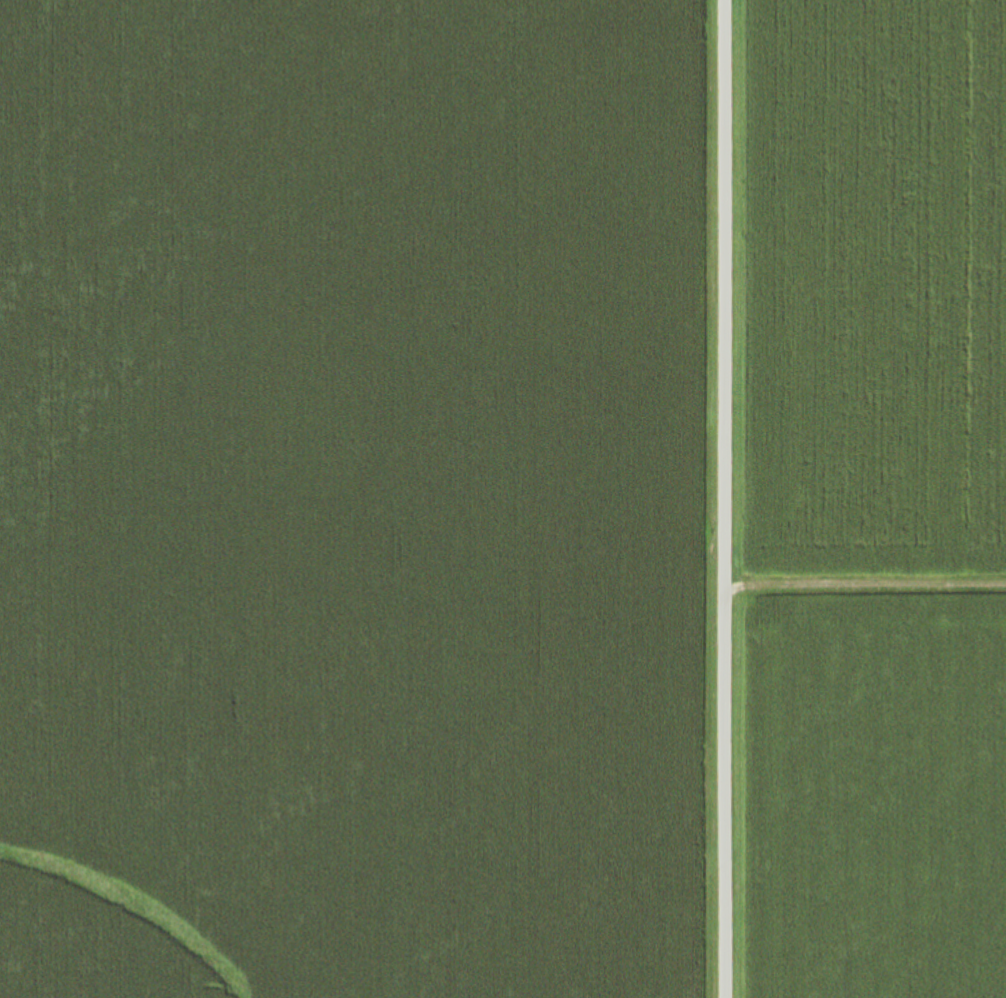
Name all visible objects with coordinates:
road: (710, 499)

